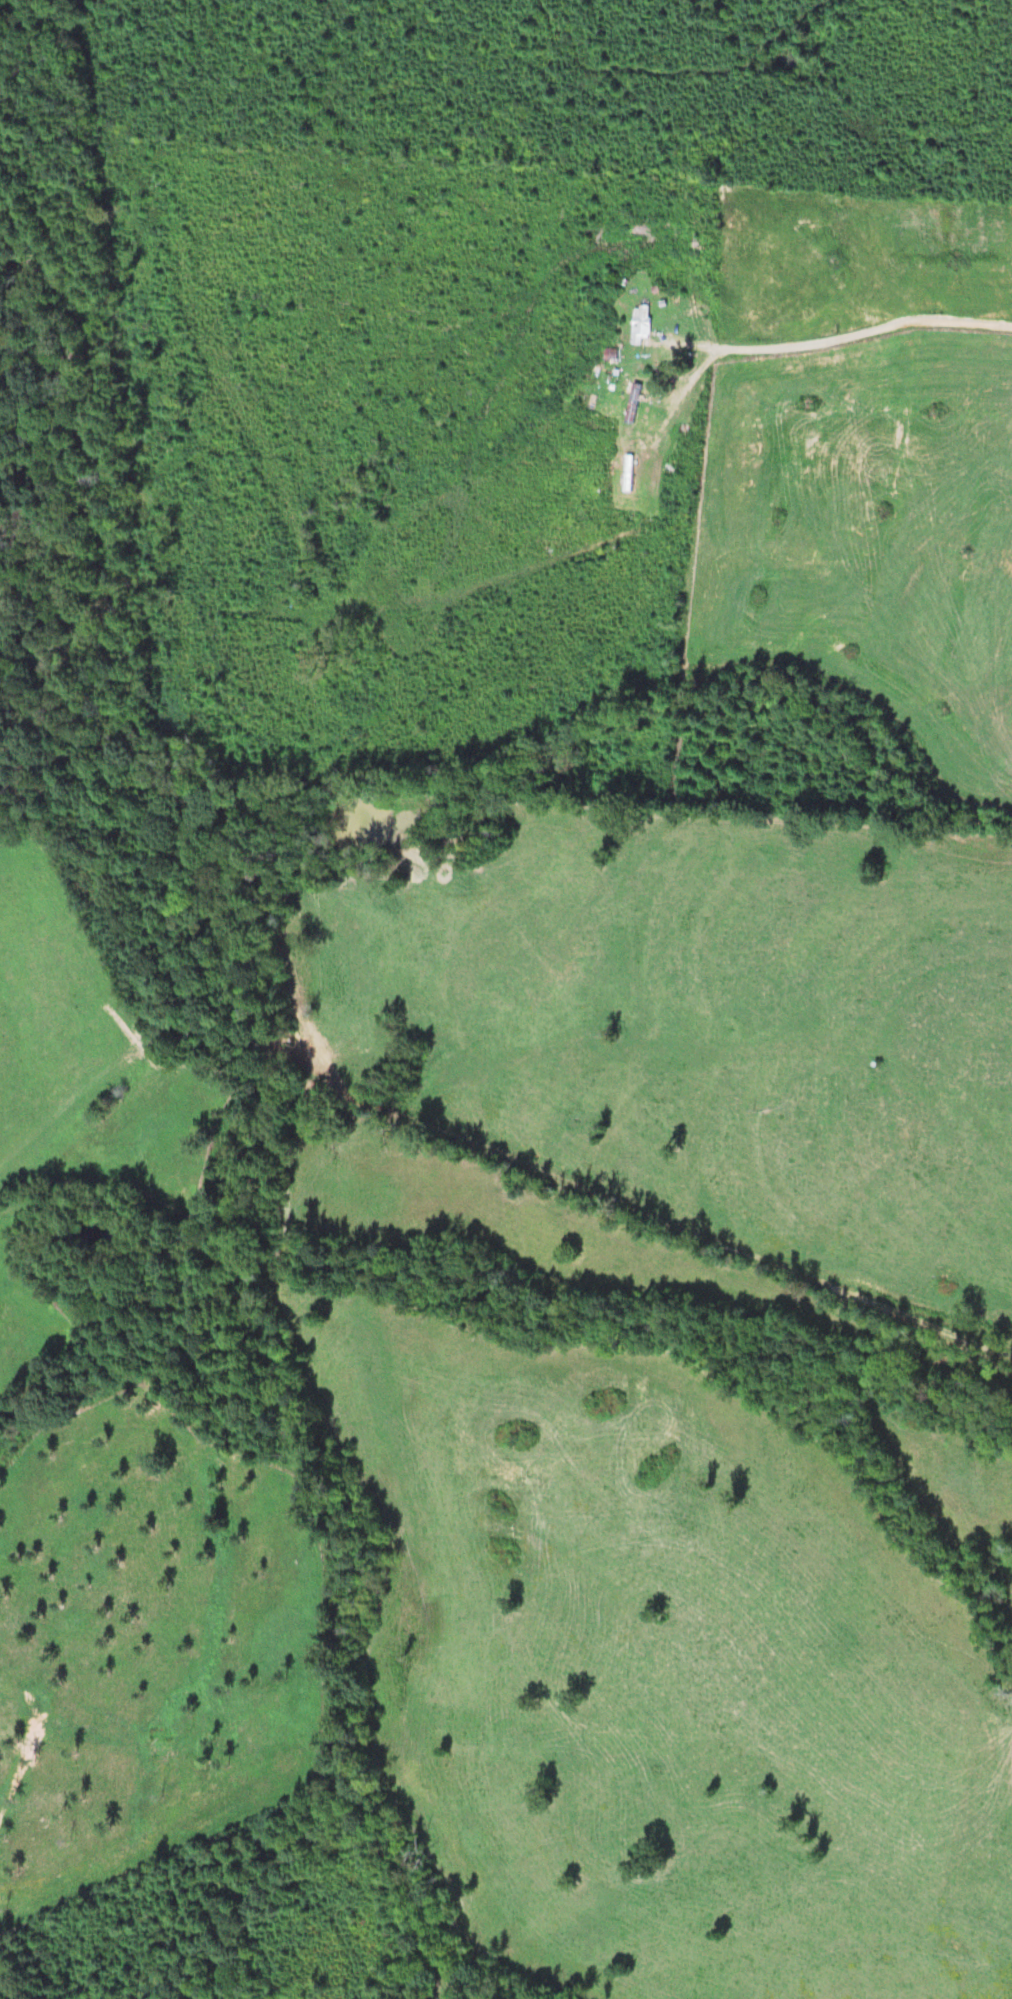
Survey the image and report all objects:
building: (640, 325)
road: (866, 333)
road: (683, 402)
building: (629, 474)

